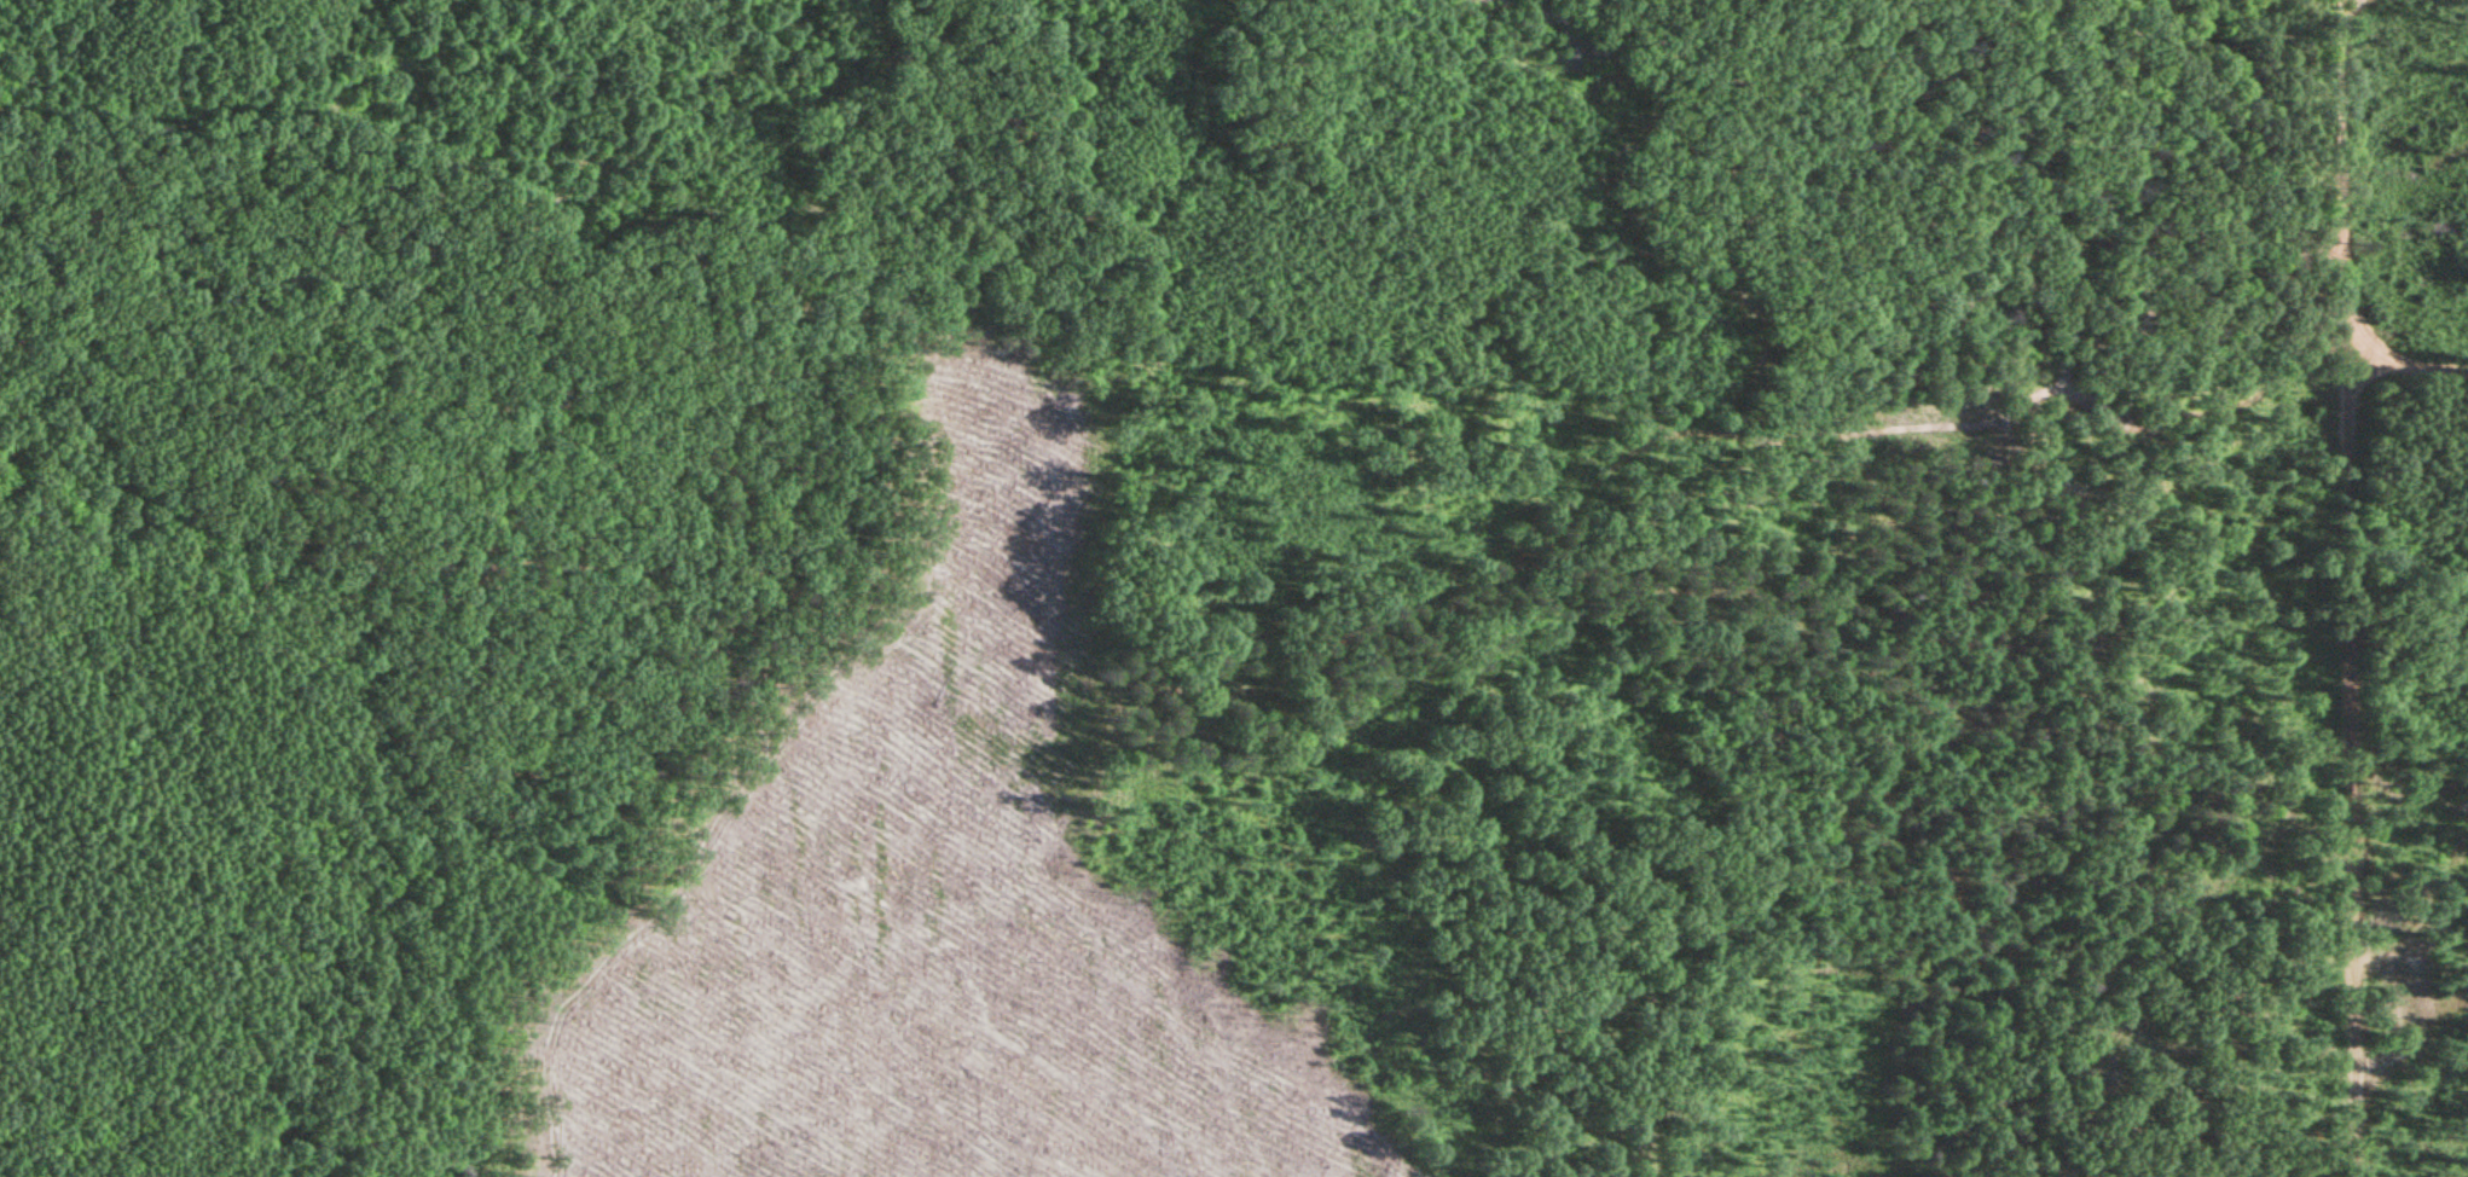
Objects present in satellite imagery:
road: (2348, 152)
road: (2382, 340)
road: (2409, 369)
road: (2359, 741)

